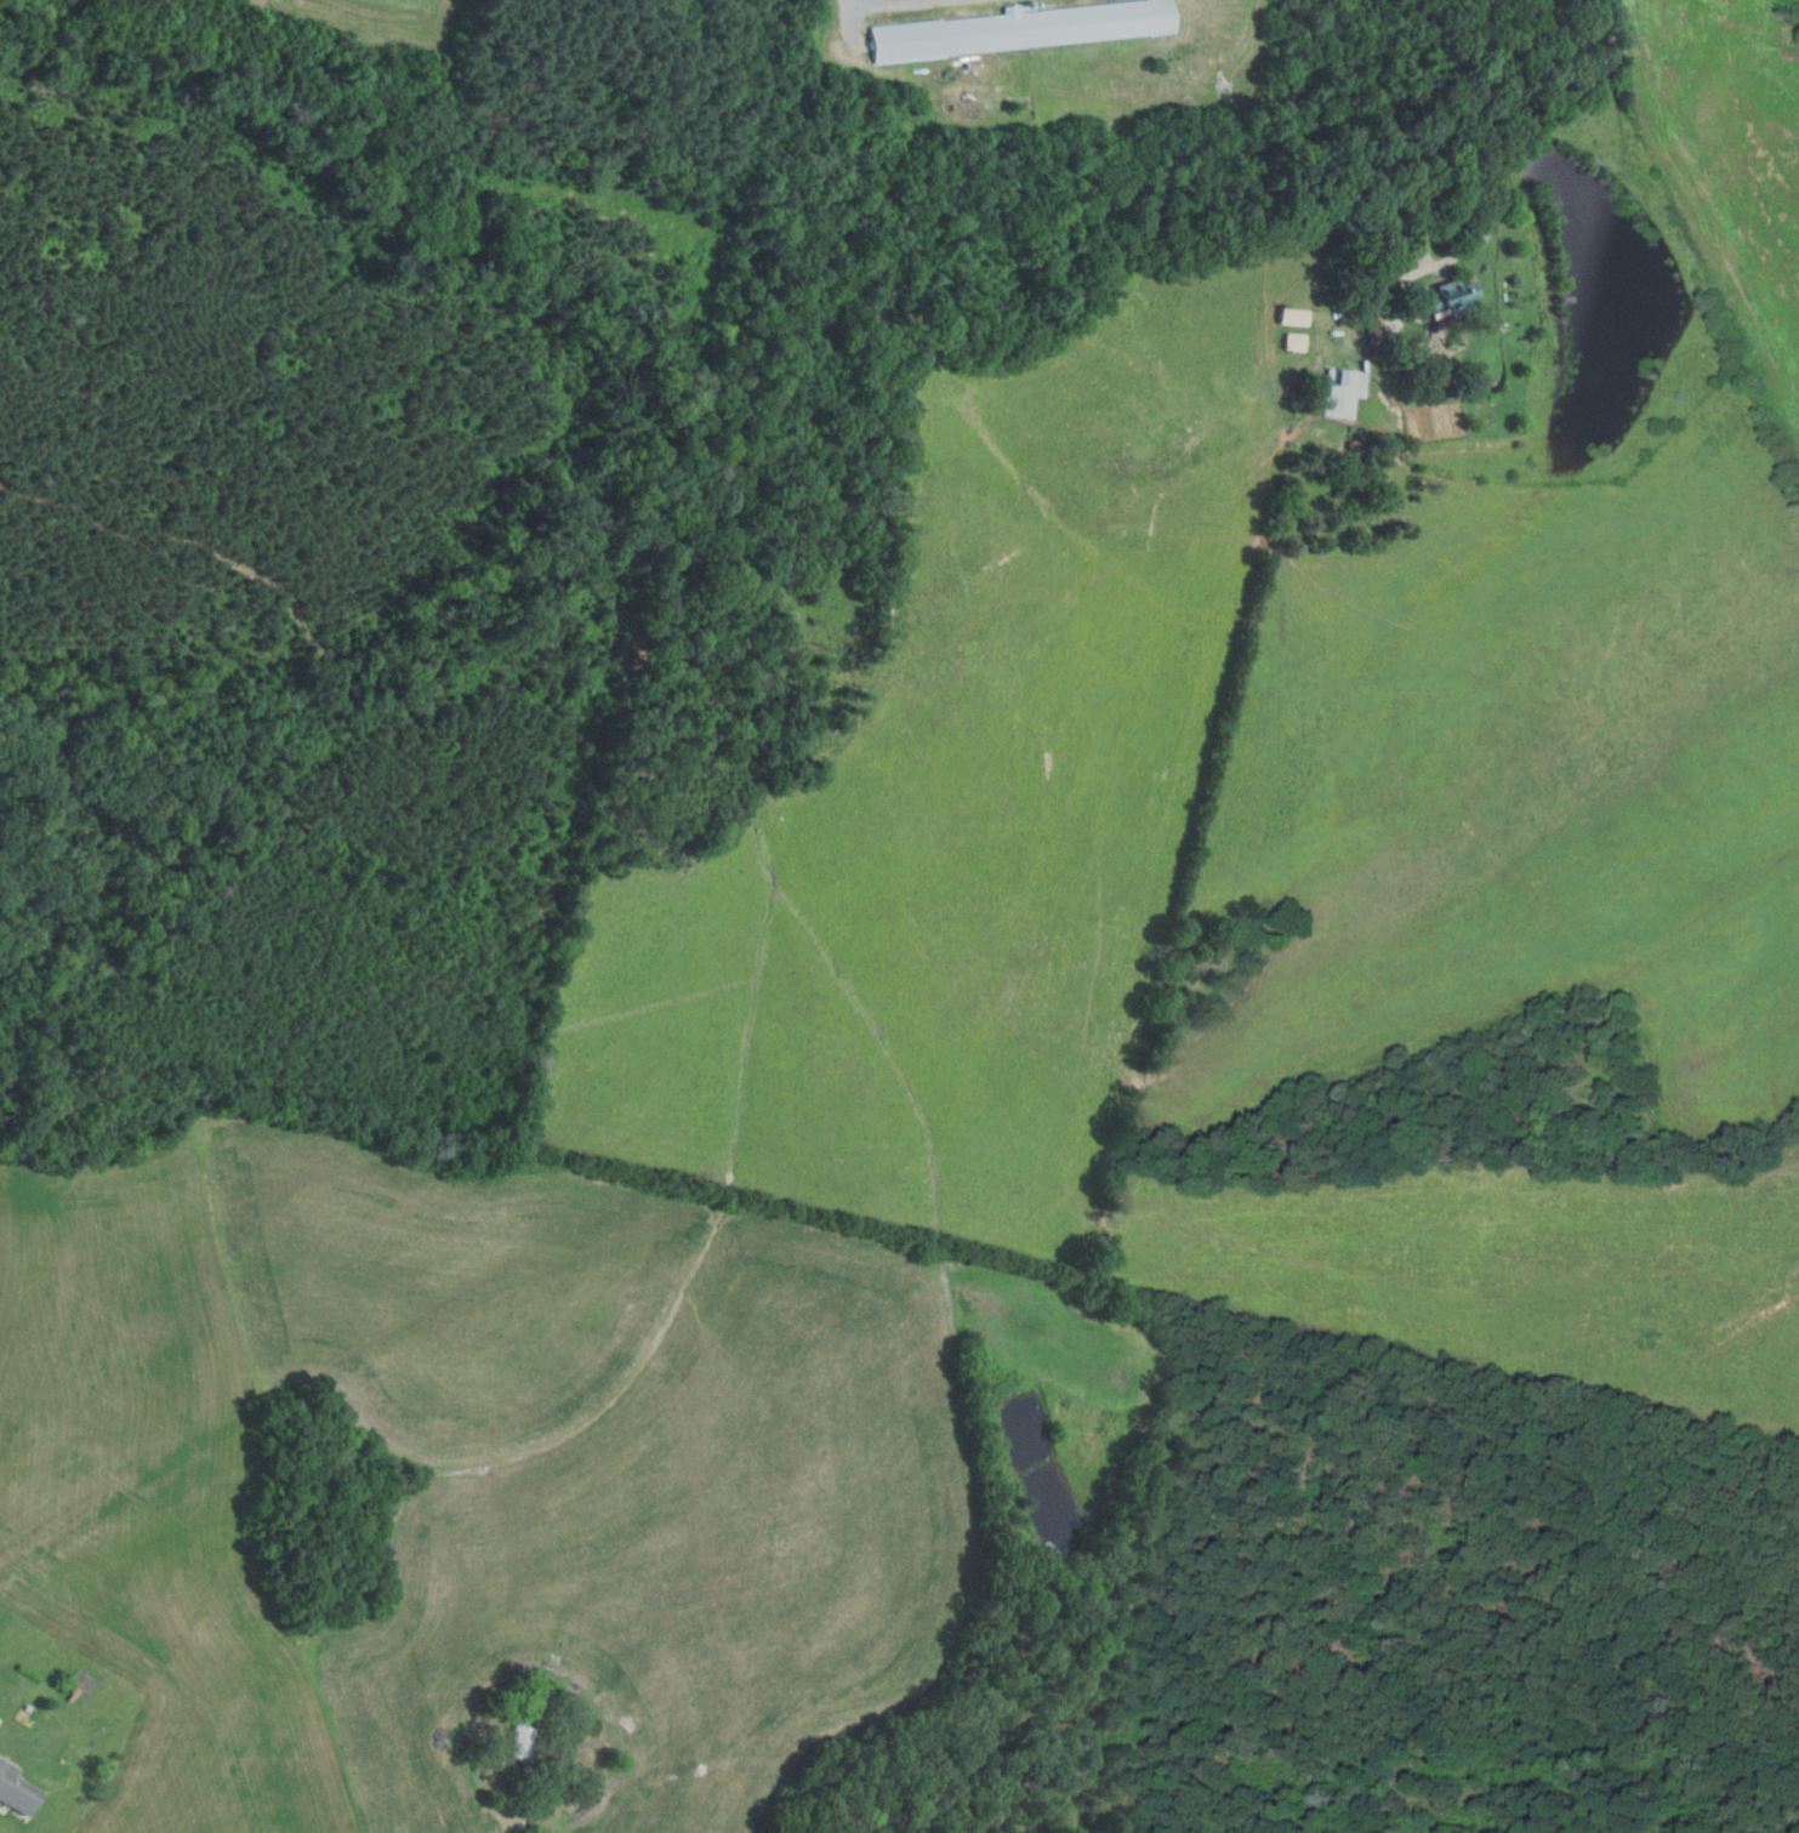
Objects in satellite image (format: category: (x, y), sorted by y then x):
road: (855, 8)
building: (1020, 30)
road: (1511, 142)
building: (1446, 298)
building: (1293, 318)
building: (1376, 341)
building: (1296, 343)
building: (1342, 394)
building: (1355, 448)
building: (548, 1701)
building: (28, 1707)
building: (522, 1740)
building: (17, 1789)
road: (533, 1803)

